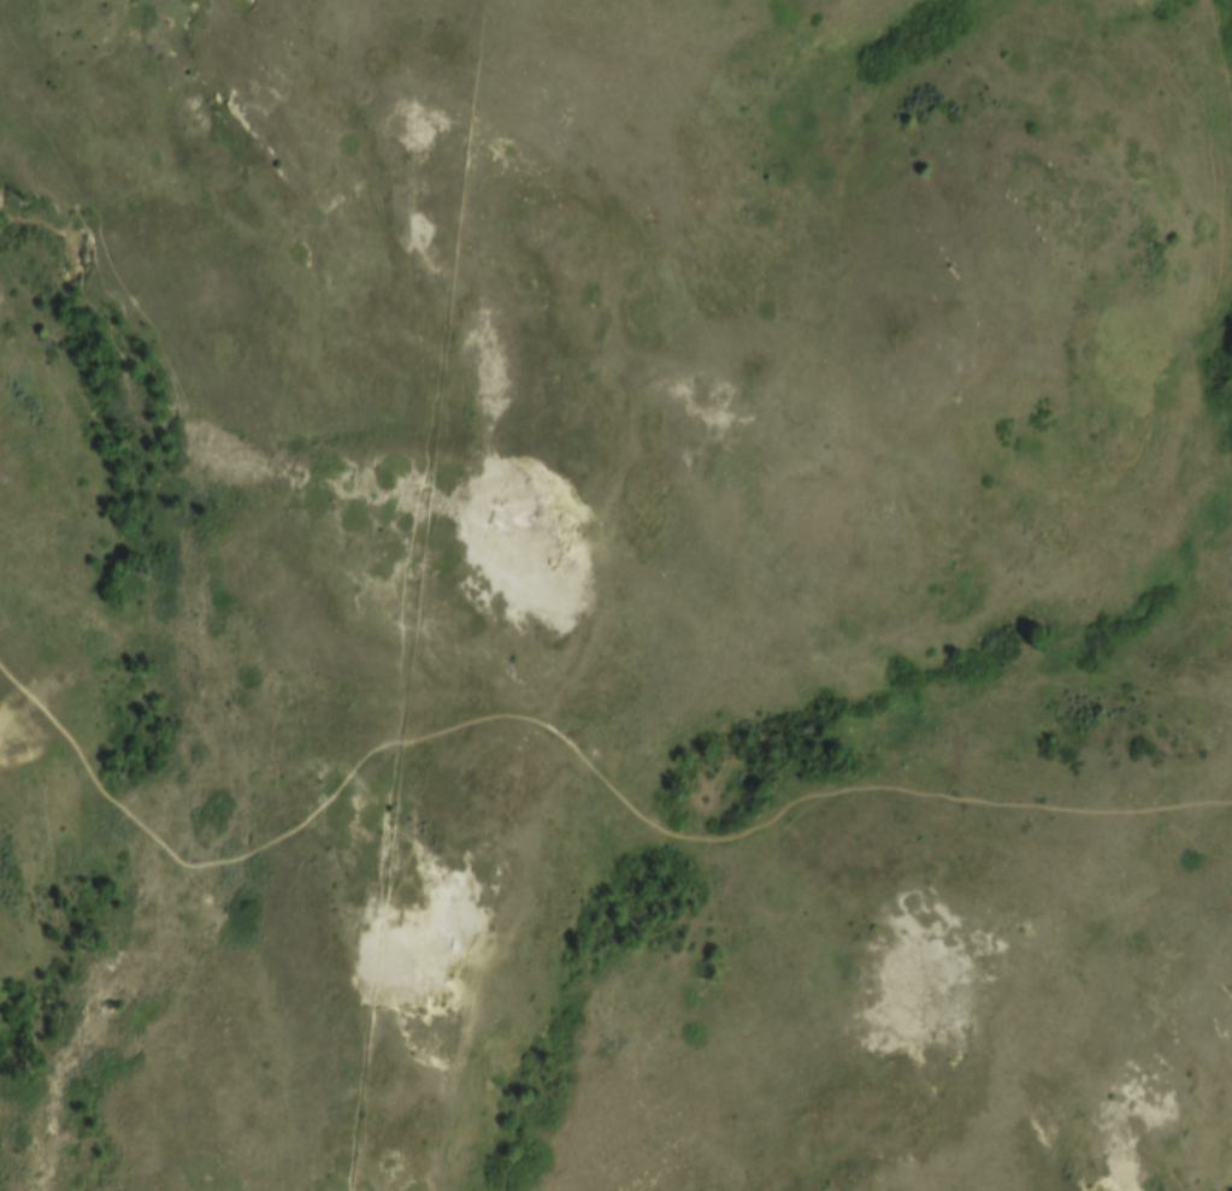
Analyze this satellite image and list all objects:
road: (570, 741)

